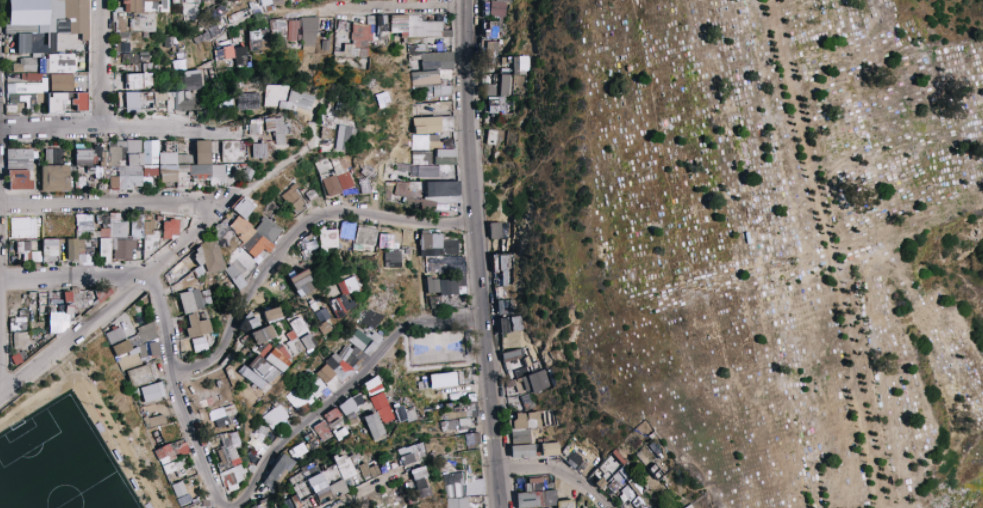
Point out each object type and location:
track: (97, 399)
park: (79, 438)
park: (62, 461)
park: (385, 492)

